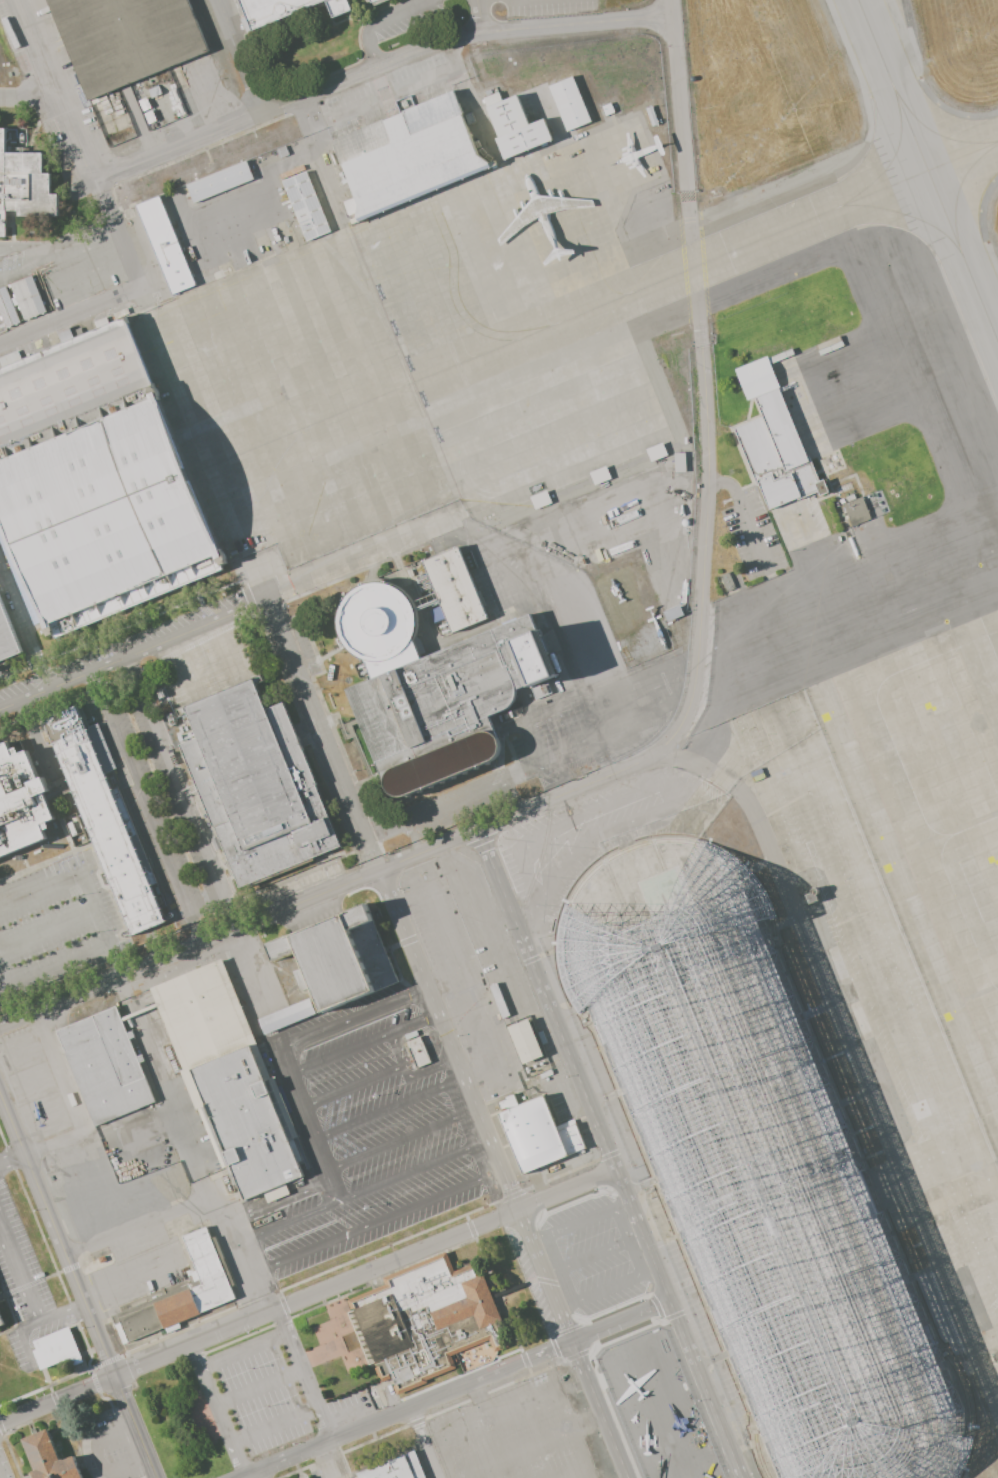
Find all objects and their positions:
building: (368, 0)
building: (377, 0)
building: (341, 6)
building: (271, 8)
road: (479, 17)
road: (374, 21)
building: (124, 35)
airport taxiway: (887, 47)
road: (242, 57)
road: (379, 72)
road: (679, 95)
building: (568, 98)
road: (28, 100)
building: (514, 122)
road: (75, 147)
building: (408, 155)
airport taxiway: (928, 169)
building: (24, 176)
building: (219, 182)
building: (307, 206)
airport taxiway: (819, 217)
building: (164, 239)
road: (695, 265)
building: (21, 296)
road: (72, 320)
building: (64, 334)
airport apron: (423, 359)
building: (777, 444)
building: (655, 452)
building: (678, 462)
building: (96, 477)
building: (854, 512)
road: (707, 537)
road: (577, 582)
building: (726, 583)
building: (453, 587)
road: (218, 616)
road: (17, 618)
building: (7, 635)
road: (224, 643)
road: (179, 661)
building: (436, 684)
road: (325, 733)
airport: (885, 757)
building: (257, 778)
road: (495, 783)
building: (23, 799)
building: (108, 817)
road: (154, 827)
road: (80, 877)
road: (343, 885)
building: (811, 896)
road: (23, 939)
building: (338, 952)
road: (460, 975)
road: (2, 979)
road: (244, 997)
building: (499, 1001)
building: (285, 1015)
road: (354, 1018)
building: (523, 1040)
road: (364, 1042)
airport apron: (811, 1048)
building: (419, 1052)
road: (853, 1059)
building: (101, 1060)
road: (409, 1075)
building: (228, 1076)
road: (351, 1086)
road: (391, 1107)
road: (305, 1108)
building: (530, 1130)
road: (404, 1138)
road: (612, 1154)
road: (12, 1158)
airport hangar: (758, 1166)
building: (758, 1166)
road: (505, 1174)
road: (333, 1185)
road: (364, 1190)
road: (282, 1198)
road: (196, 1205)
road: (376, 1221)
road: (57, 1234)
parking lot: (24, 1247)
building: (100, 1259)
road: (367, 1273)
building: (183, 1291)
parking lot: (11, 1295)
road: (30, 1295)
building: (424, 1316)
building: (1, 1323)
road: (23, 1336)
building: (54, 1345)
road: (244, 1350)
parking lot: (17, 1352)
building: (995, 1356)
road: (304, 1375)
road: (259, 1385)
road: (454, 1390)
road: (57, 1400)
road: (220, 1408)
road: (588, 1422)
road: (276, 1423)
road: (135, 1427)
road: (435, 1433)
road: (422, 1443)
building: (50, 1455)
road: (582, 1455)
road: (324, 1462)
building: (395, 1465)
building: (307, 1476)
road: (0, 1477)

